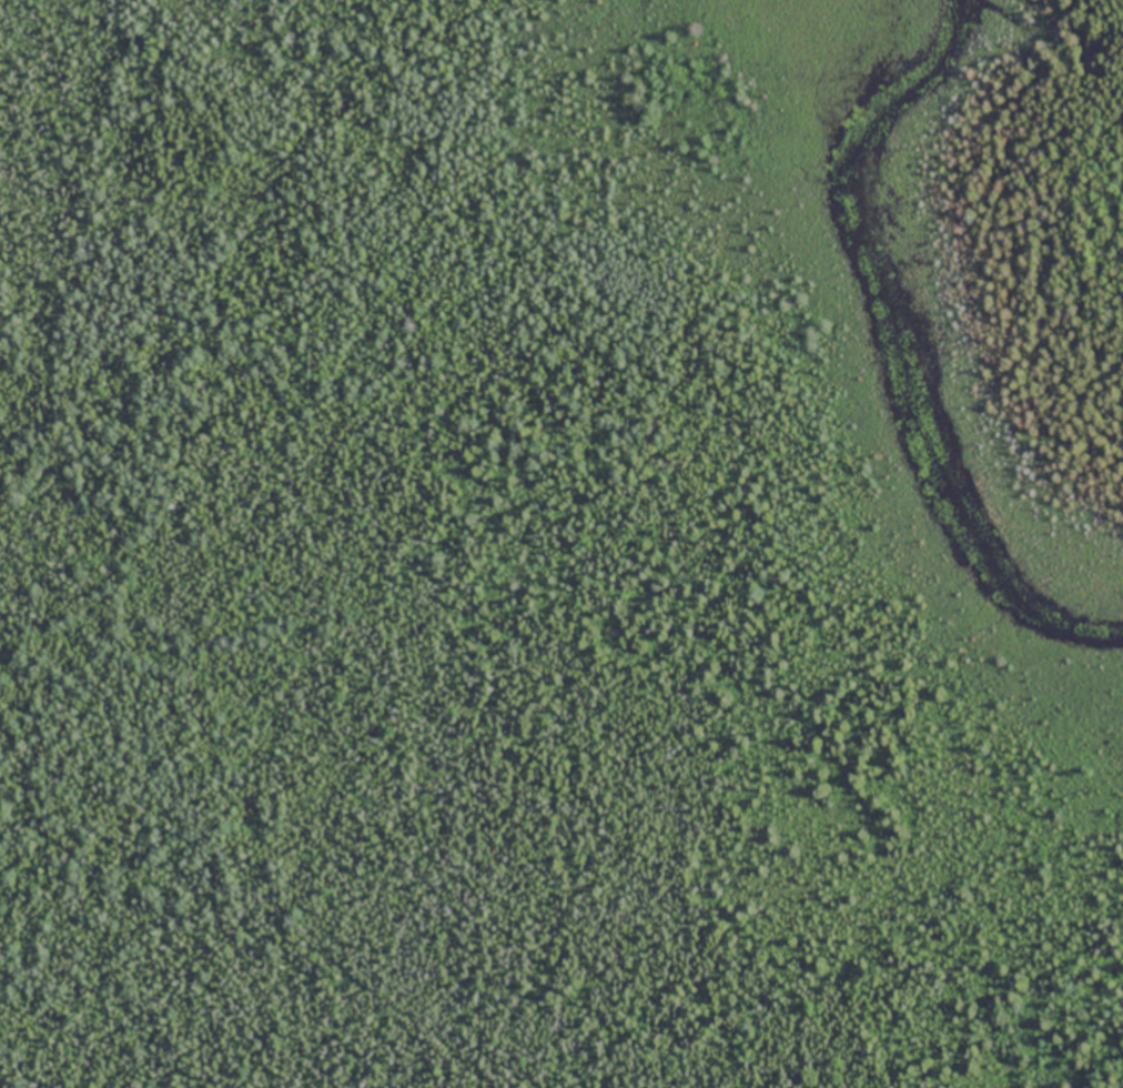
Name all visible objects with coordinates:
river: (899, 343)

